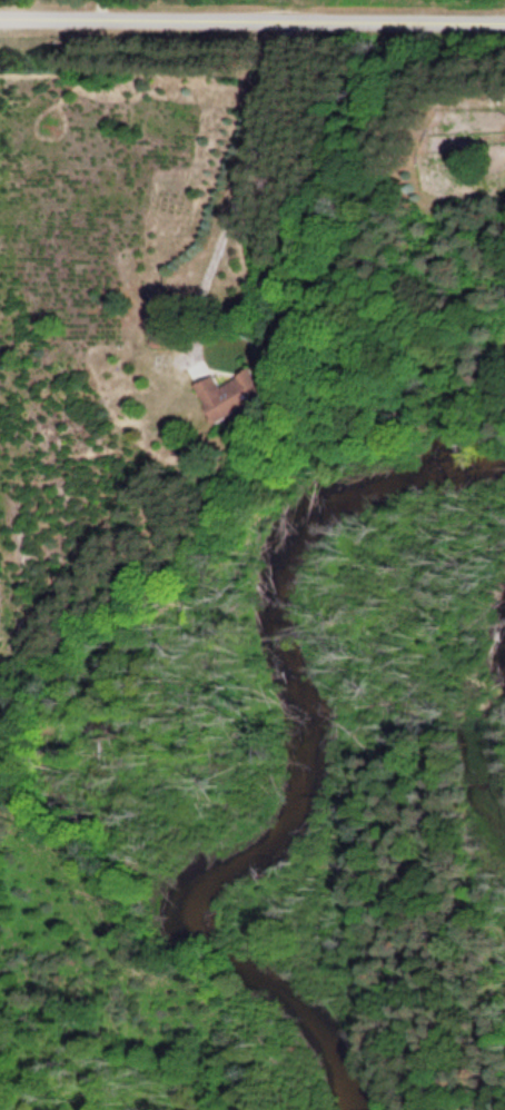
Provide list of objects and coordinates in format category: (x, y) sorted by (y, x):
road: (253, 20)
building: (221, 396)
river: (310, 776)

